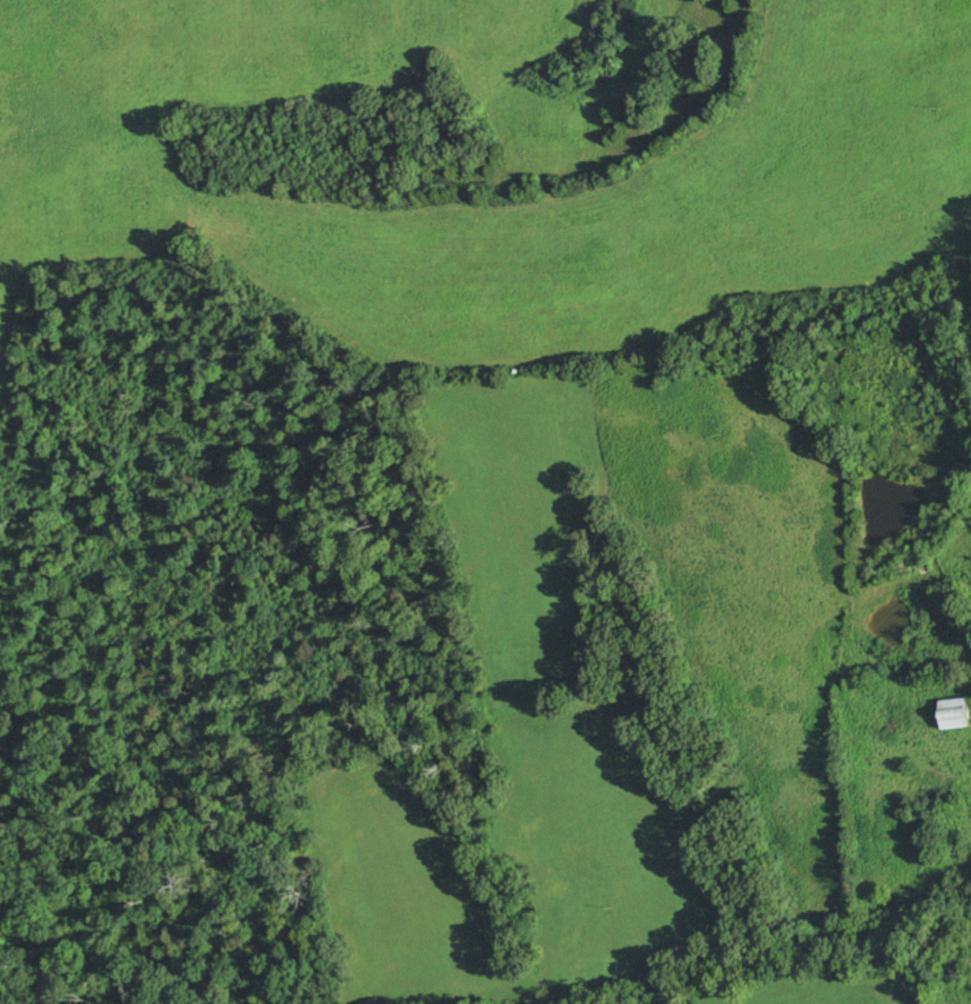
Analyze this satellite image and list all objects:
building: (958, 715)

